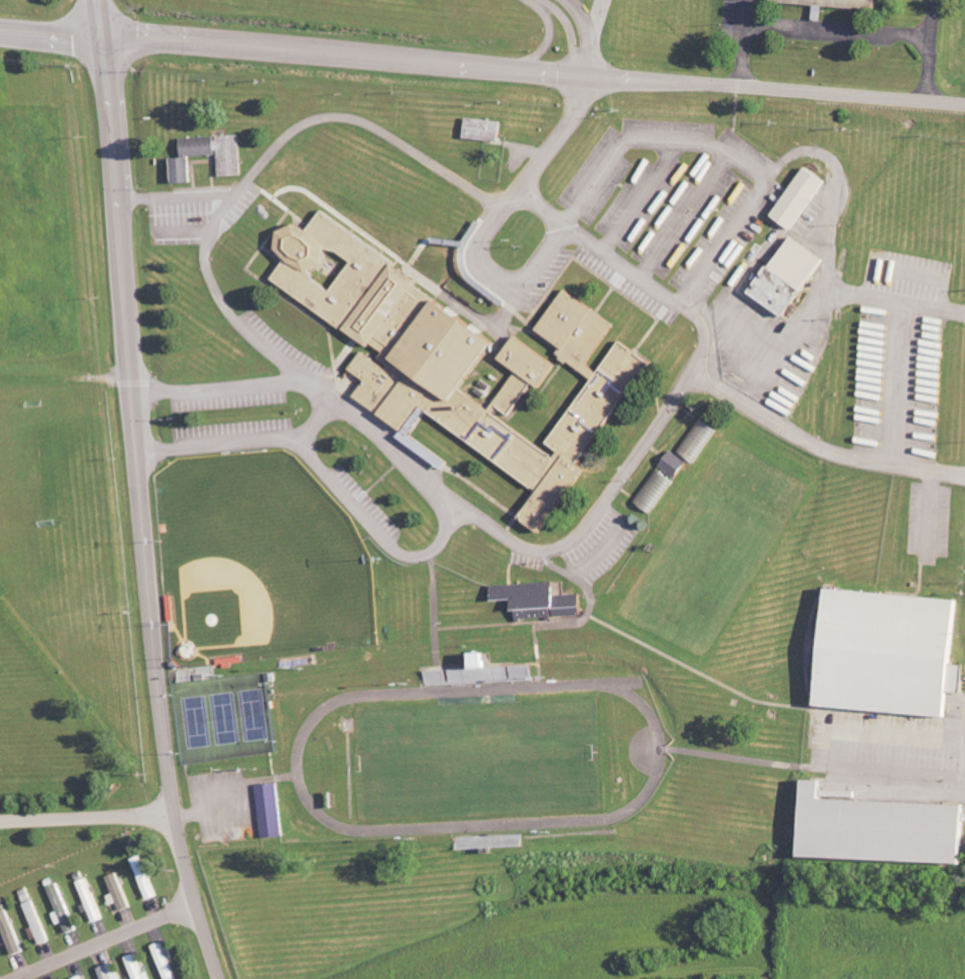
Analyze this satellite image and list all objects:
building: (833, 5)
road: (747, 12)
road: (596, 17)
road: (934, 19)
road: (568, 25)
road: (50, 30)
road: (545, 30)
road: (840, 31)
road: (586, 33)
road: (744, 54)
road: (533, 68)
road: (930, 70)
road: (365, 121)
building: (485, 129)
road: (562, 133)
building: (232, 166)
road: (838, 175)
road: (588, 192)
road: (512, 197)
building: (802, 198)
road: (563, 218)
road: (207, 241)
building: (792, 276)
road: (785, 342)
building: (457, 354)
road: (315, 421)
building: (700, 440)
road: (821, 448)
road: (641, 450)
building: (676, 464)
building: (656, 491)
road: (142, 492)
road: (447, 520)
building: (540, 601)
building: (893, 653)
building: (480, 672)
building: (521, 673)
building: (437, 678)
building: (270, 811)
road: (88, 815)
building: (884, 830)
building: (146, 878)
building: (119, 892)
building: (92, 902)
building: (64, 910)
building: (38, 924)
road: (104, 939)
building: (166, 961)
building: (138, 968)
building: (112, 972)
building: (81, 978)

